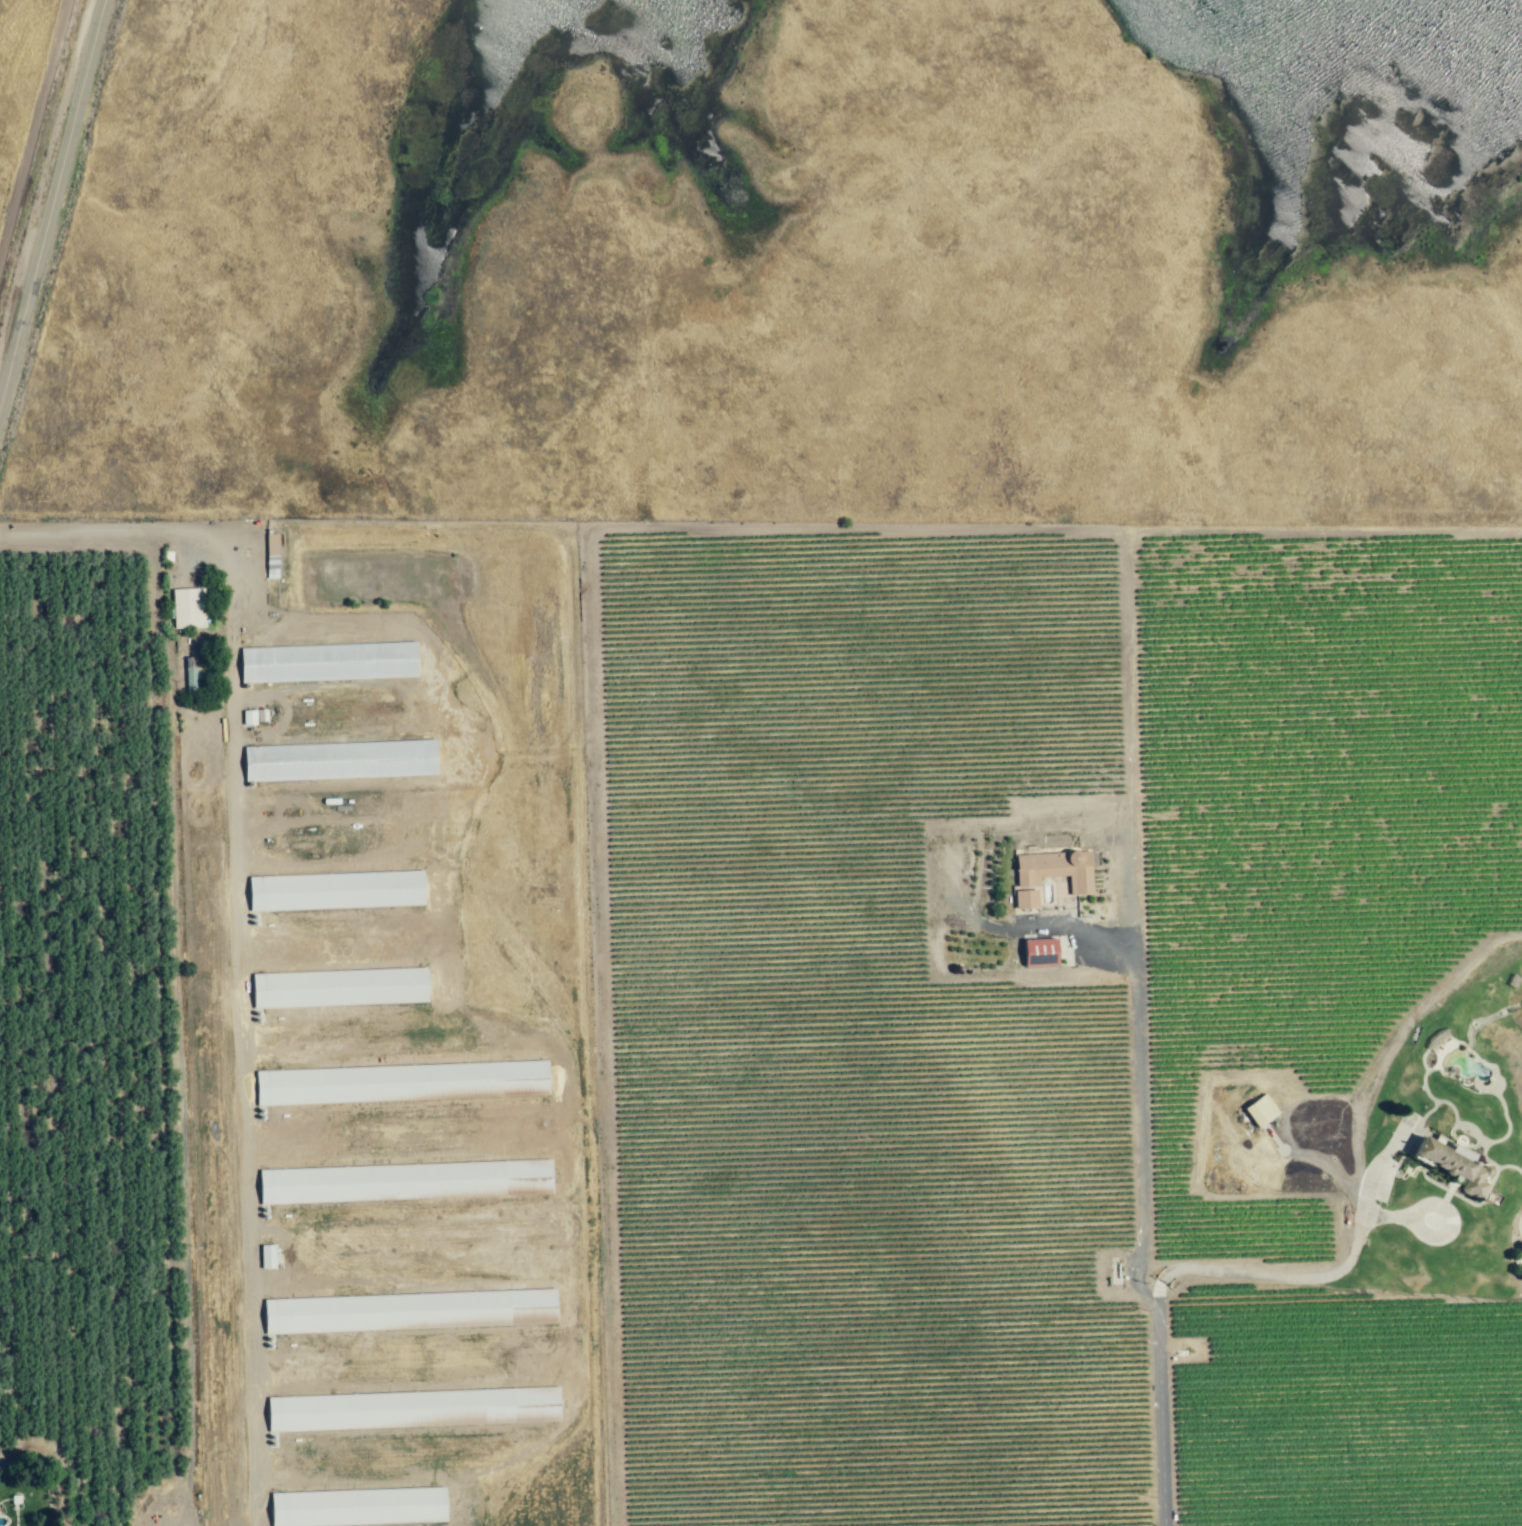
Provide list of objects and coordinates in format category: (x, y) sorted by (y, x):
road: (52, 196)
building: (189, 608)
building: (327, 662)
building: (339, 760)
building: (337, 890)
road: (232, 923)
road: (1074, 929)
building: (342, 988)
road: (1136, 1011)
crop: (1028, 1020)
crop: (84, 1049)
building: (403, 1082)
building: (1258, 1109)
building: (1446, 1164)
building: (406, 1181)
building: (268, 1256)
road: (1304, 1277)
building: (410, 1311)
building: (413, 1409)
building: (358, 1506)

